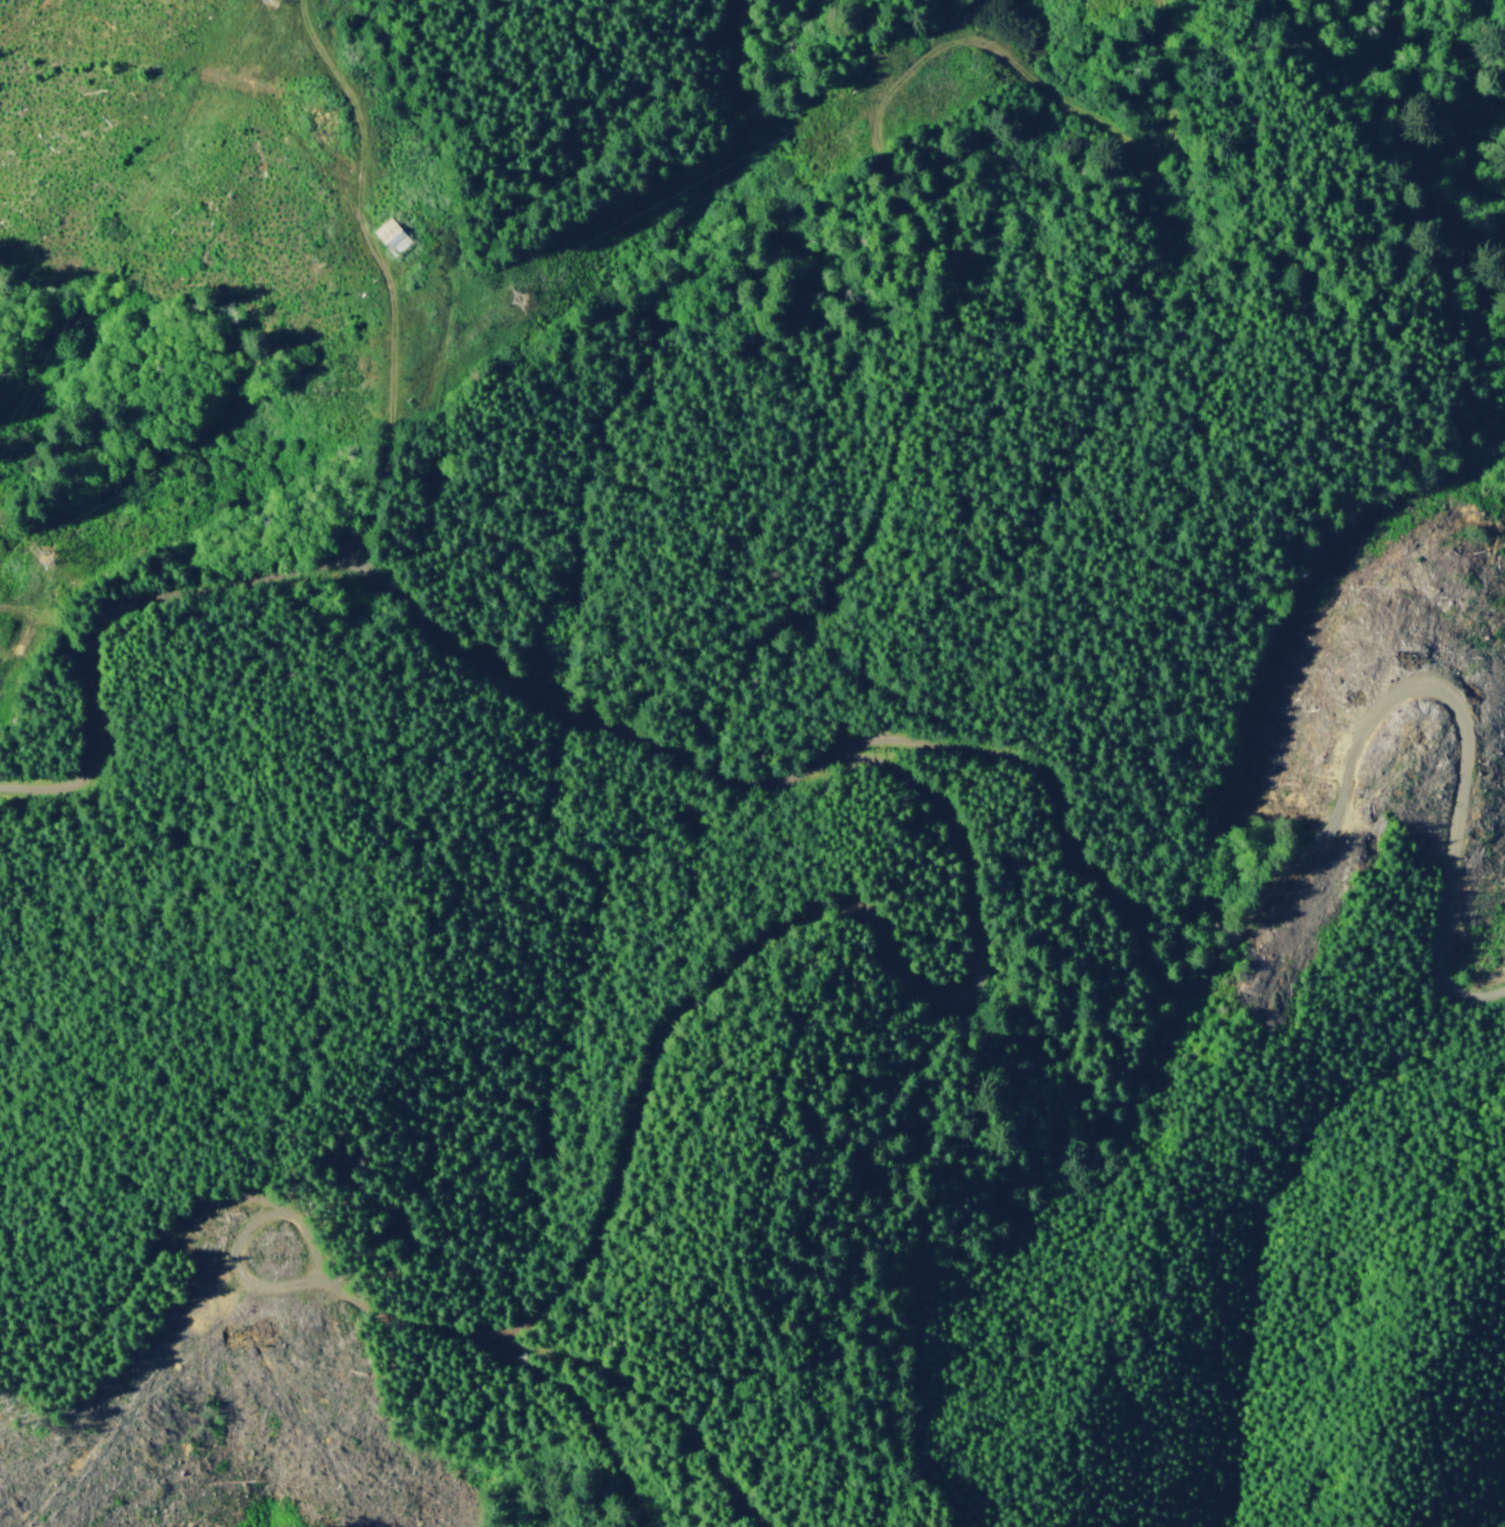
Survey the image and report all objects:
power tower: (510, 298)
road: (891, 396)
power tower: (37, 558)
road: (208, 582)

